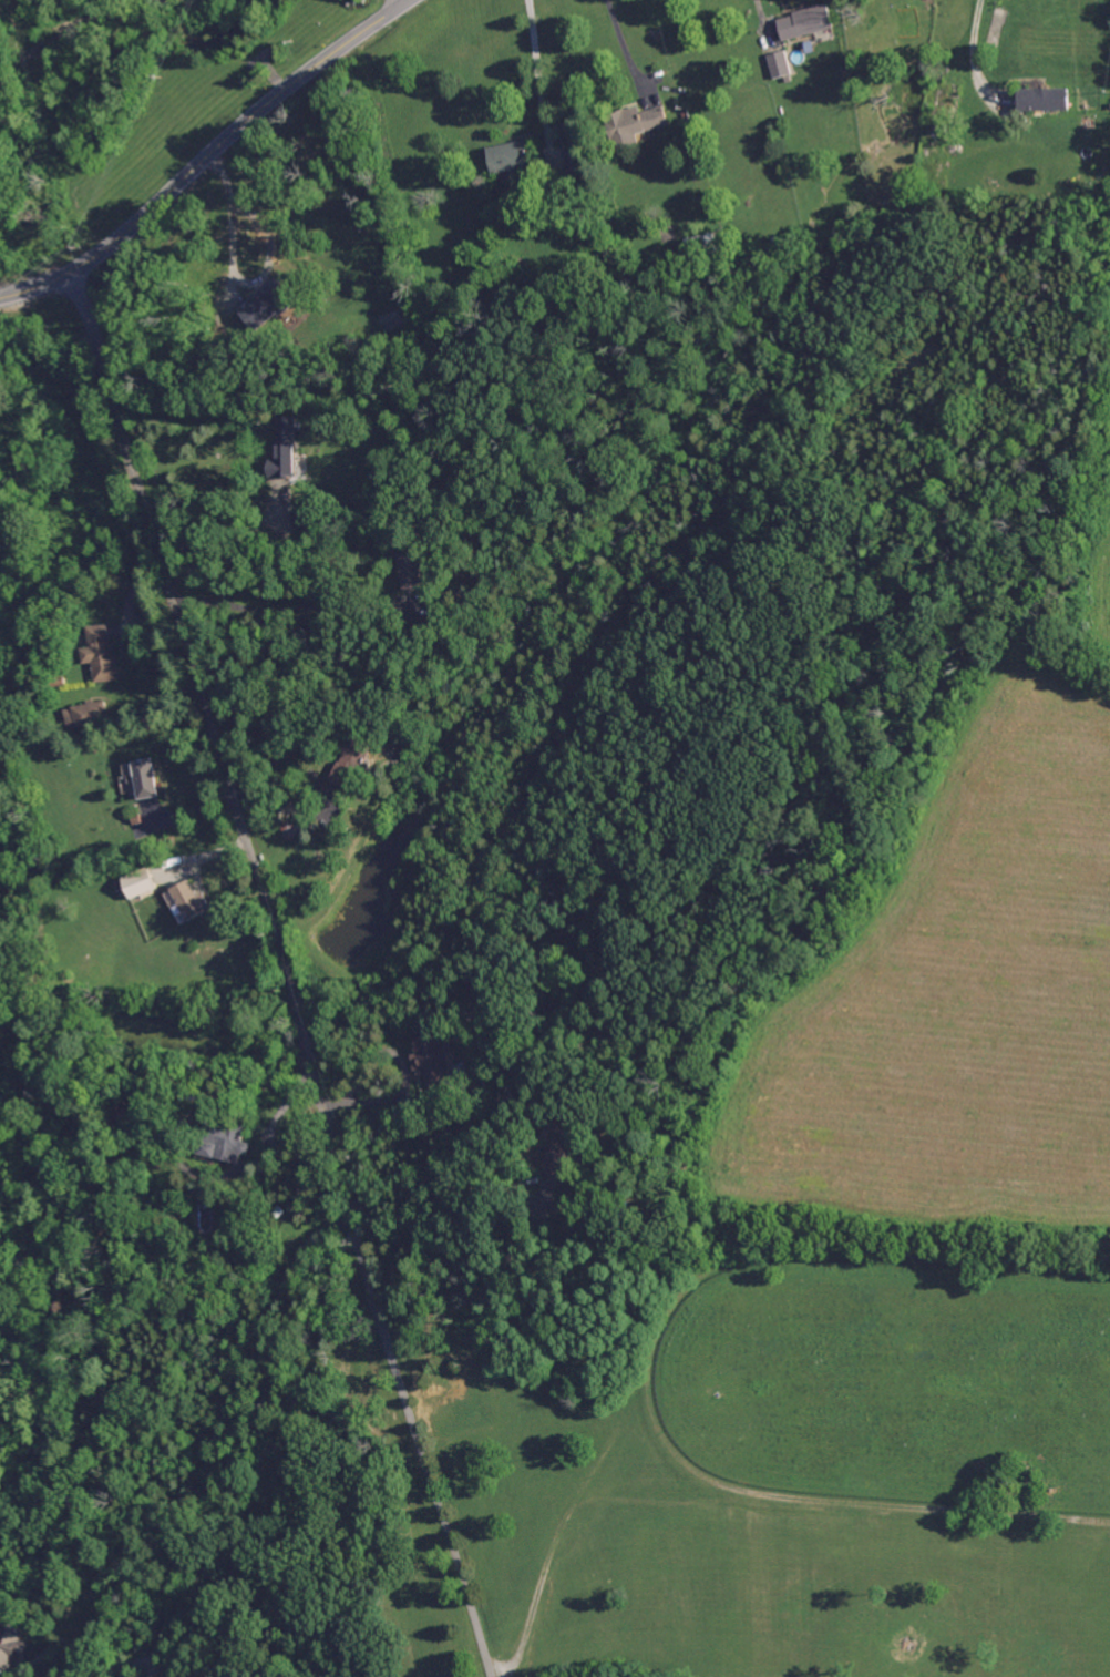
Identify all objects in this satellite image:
road: (759, 9)
building: (805, 22)
road: (621, 42)
road: (972, 48)
road: (535, 55)
building: (778, 63)
building: (1046, 99)
building: (639, 122)
road: (206, 153)
building: (512, 156)
building: (573, 161)
road: (232, 218)
building: (268, 306)
building: (284, 449)
building: (304, 518)
road: (206, 529)
building: (412, 571)
road: (282, 609)
building: (100, 653)
building: (86, 716)
road: (212, 740)
building: (351, 763)
road: (317, 775)
building: (147, 779)
building: (294, 831)
building: (140, 882)
building: (192, 900)
building: (429, 1054)
building: (131, 1113)
building: (222, 1141)
road: (440, 1201)
road: (225, 1424)
road: (418, 1444)
building: (11, 1644)
road: (83, 1657)
road: (147, 1669)

